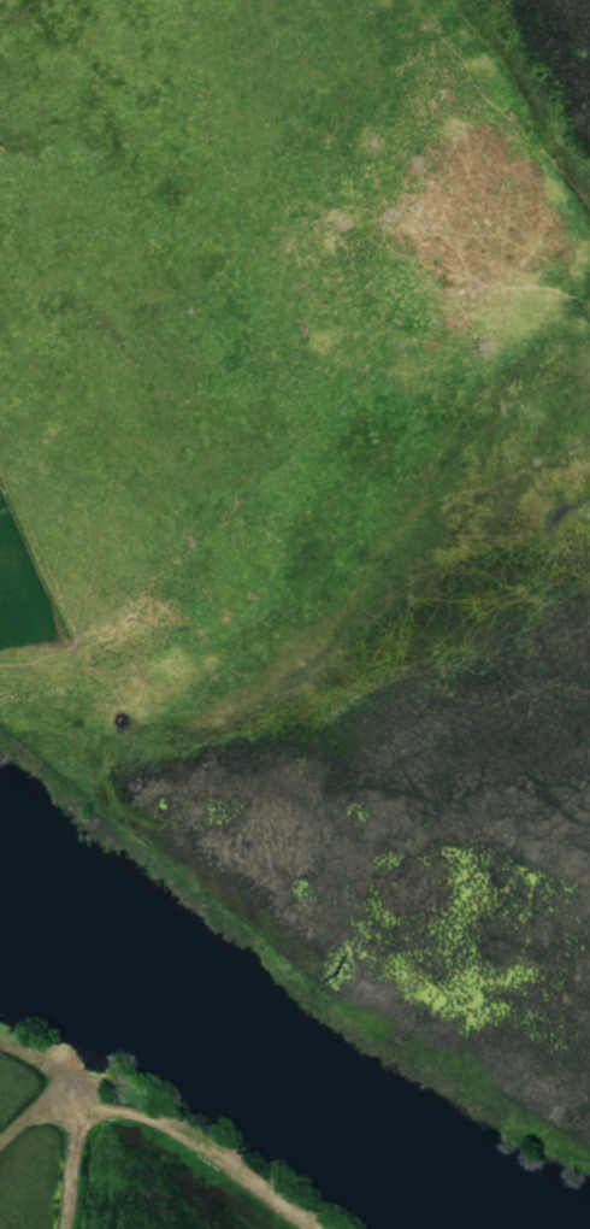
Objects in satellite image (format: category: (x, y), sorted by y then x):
river: (247, 1084)

